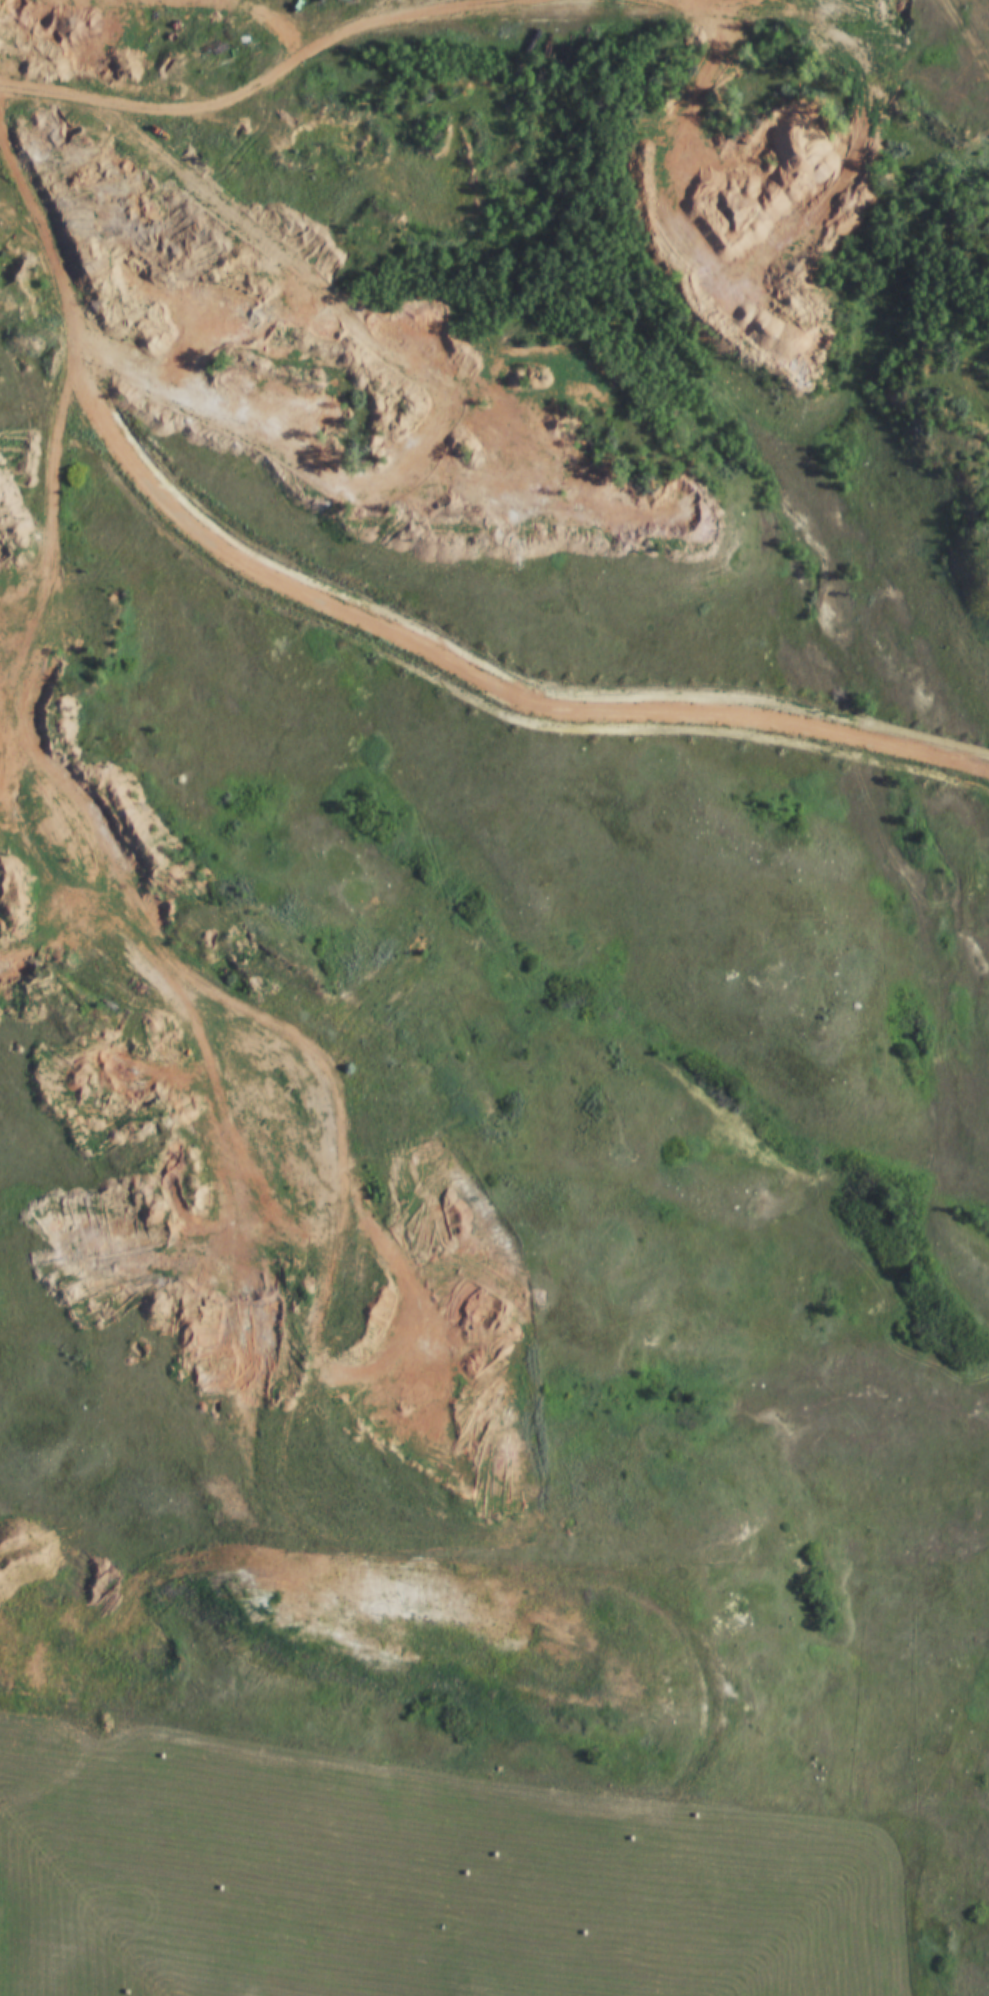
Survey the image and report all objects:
road: (841, 21)
road: (969, 30)
road: (67, 34)
road: (103, 186)
building: (244, 267)
road: (496, 343)
road: (964, 374)
road: (16, 658)
road: (434, 662)
quarry: (87, 833)

